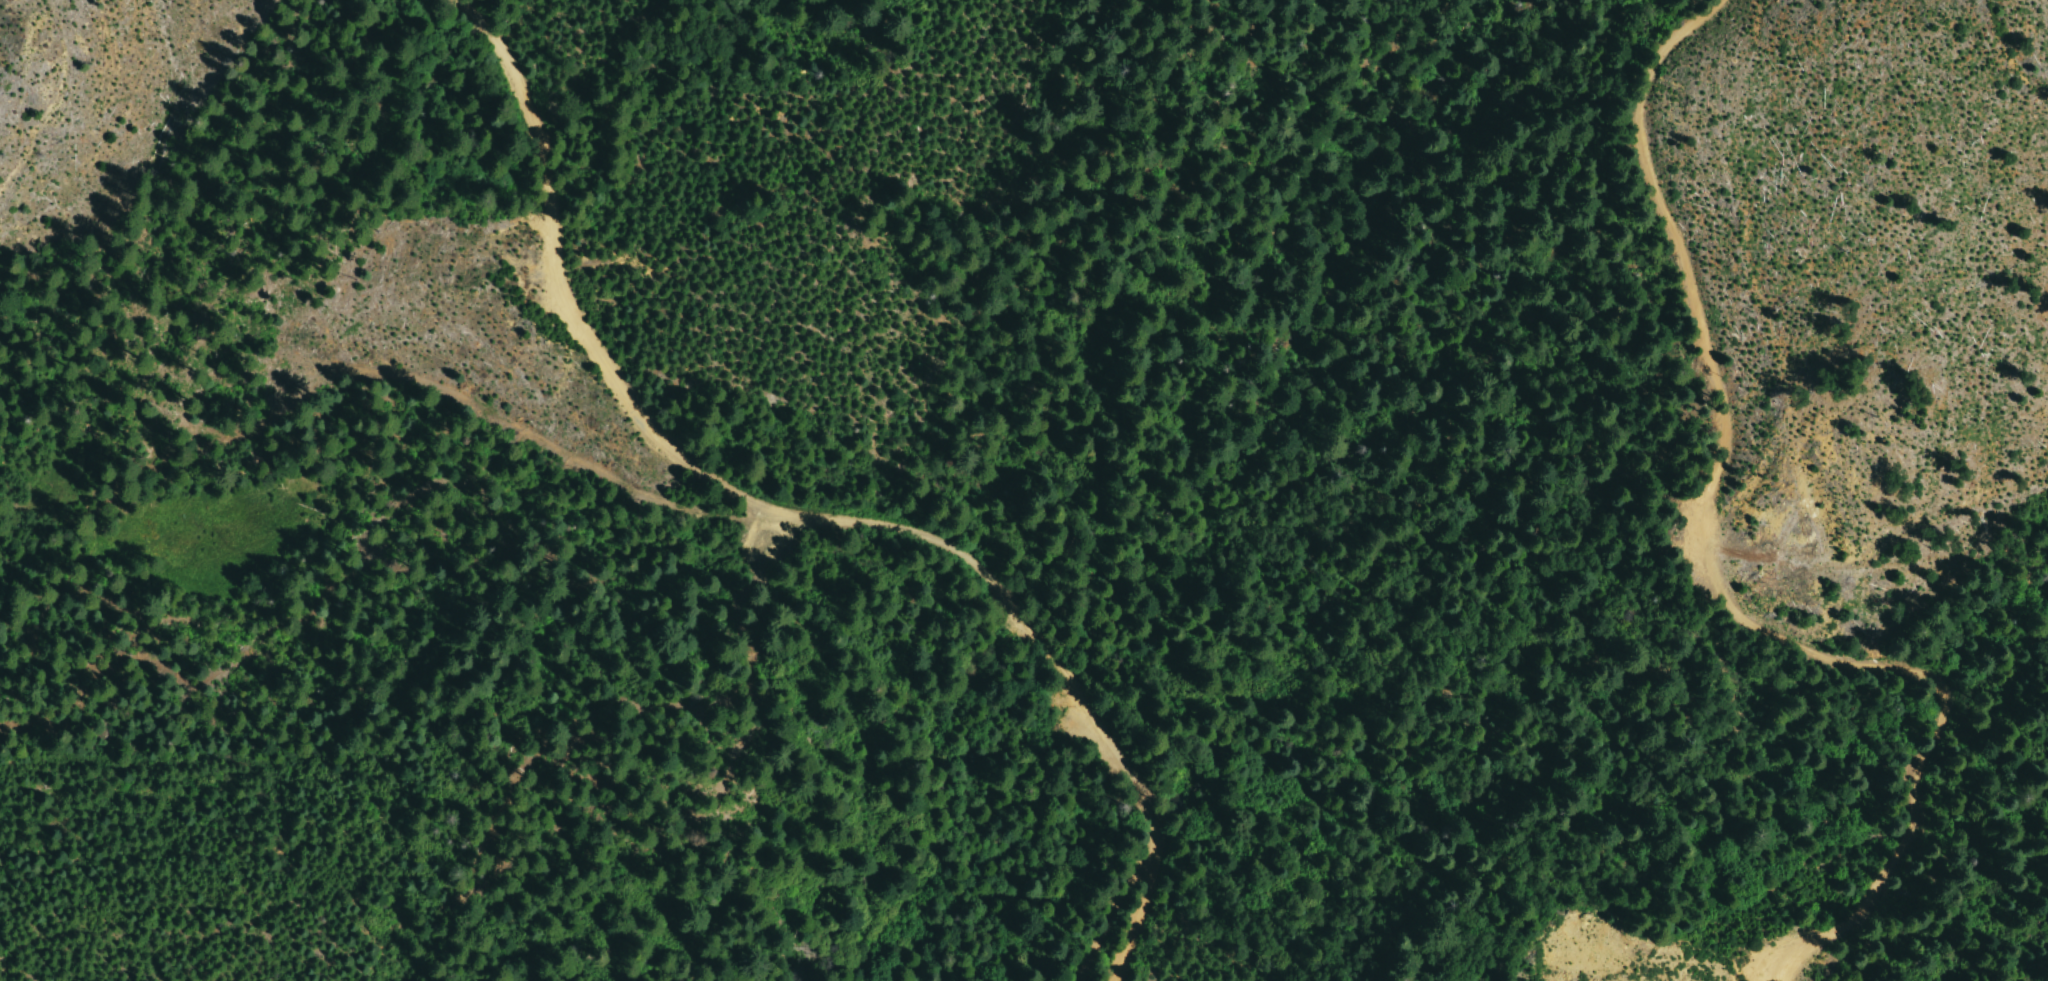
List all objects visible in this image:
road: (804, 509)
road: (1712, 567)
road: (1097, 940)
road: (1770, 973)

